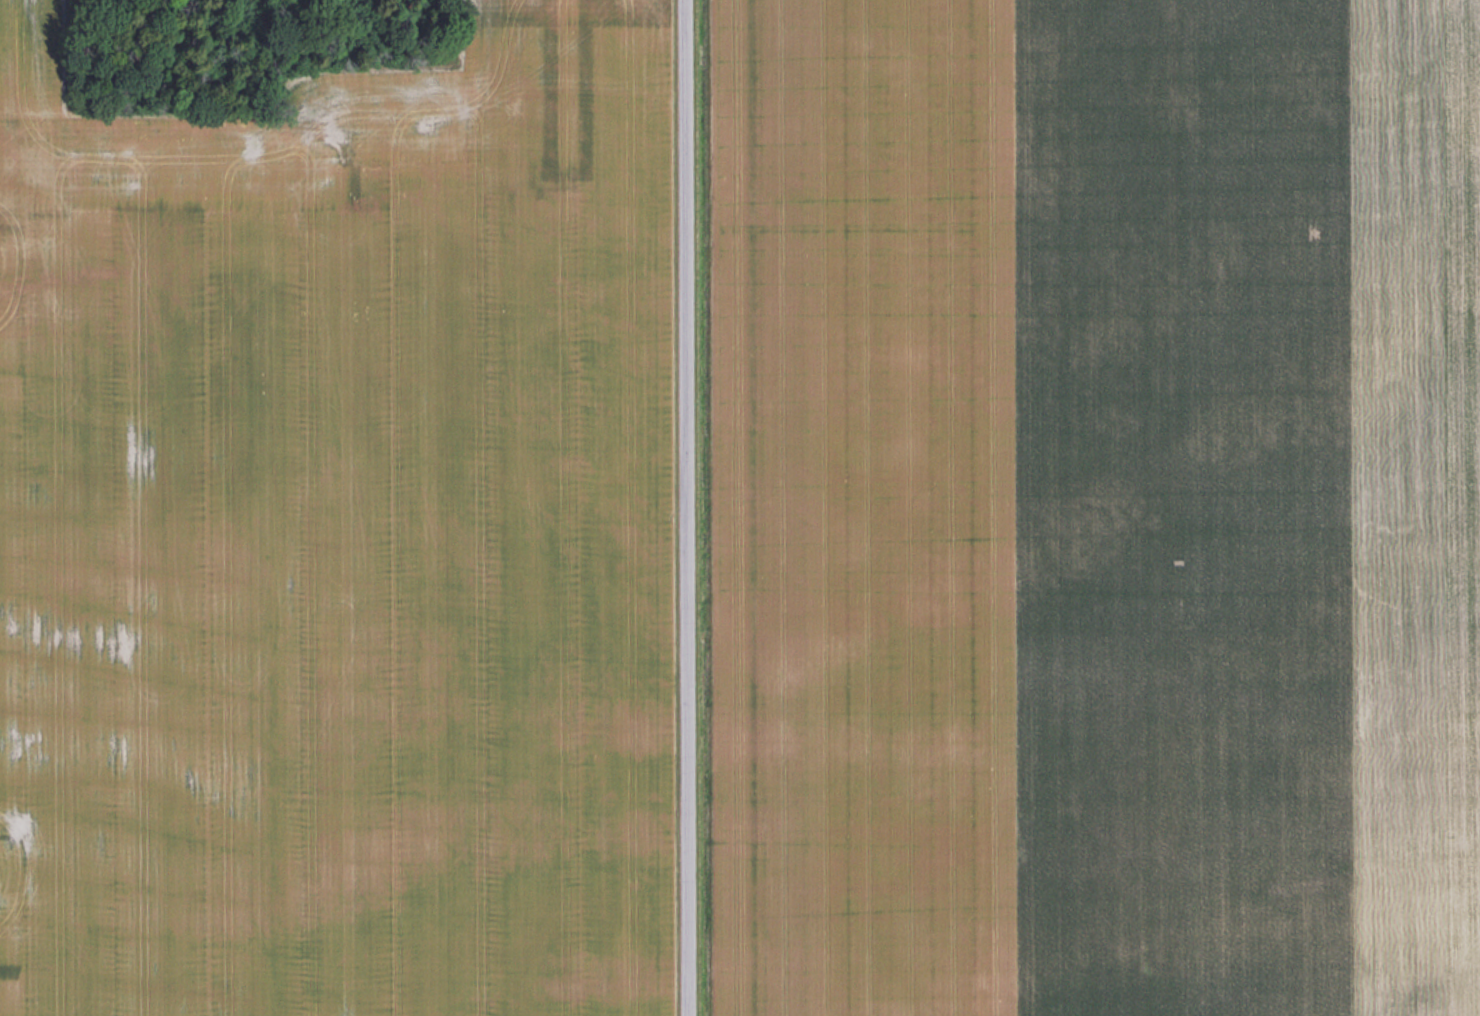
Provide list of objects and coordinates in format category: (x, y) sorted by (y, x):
road: (687, 508)

